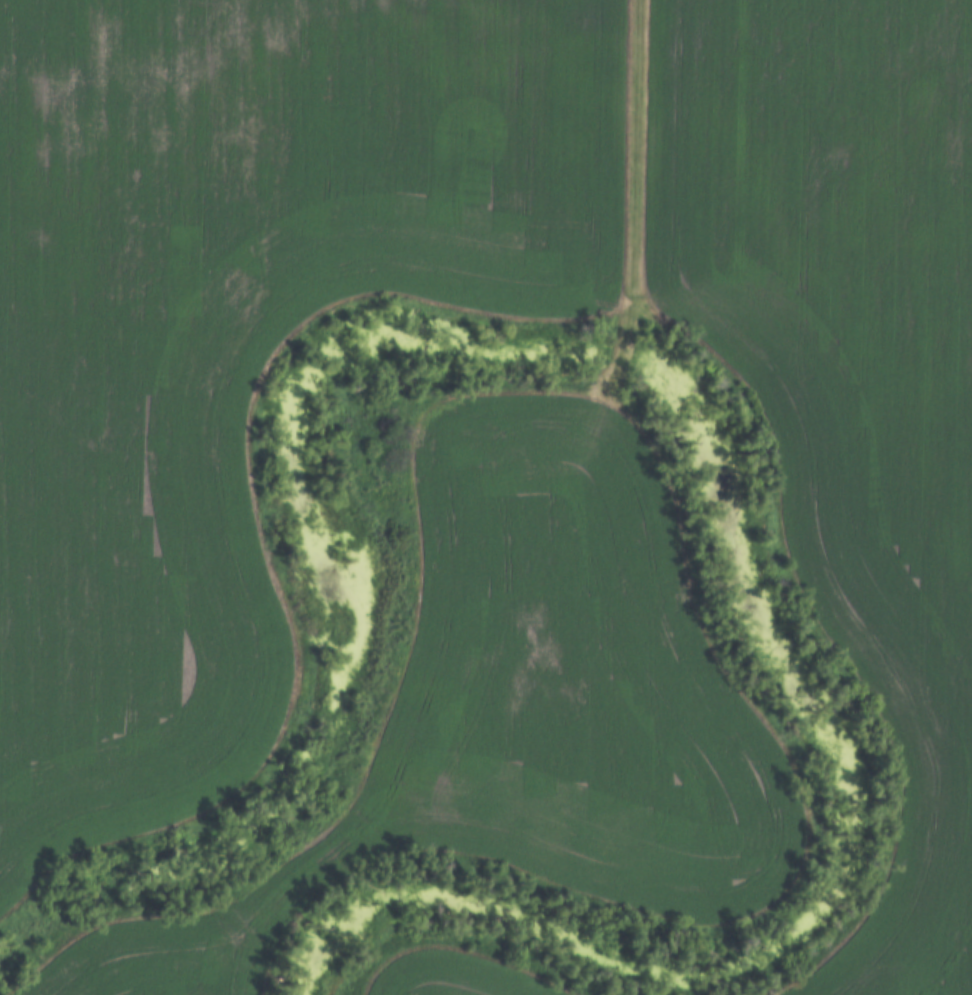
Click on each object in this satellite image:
crop: (234, 328)
crop: (846, 372)
crop: (520, 711)
crop: (445, 977)

